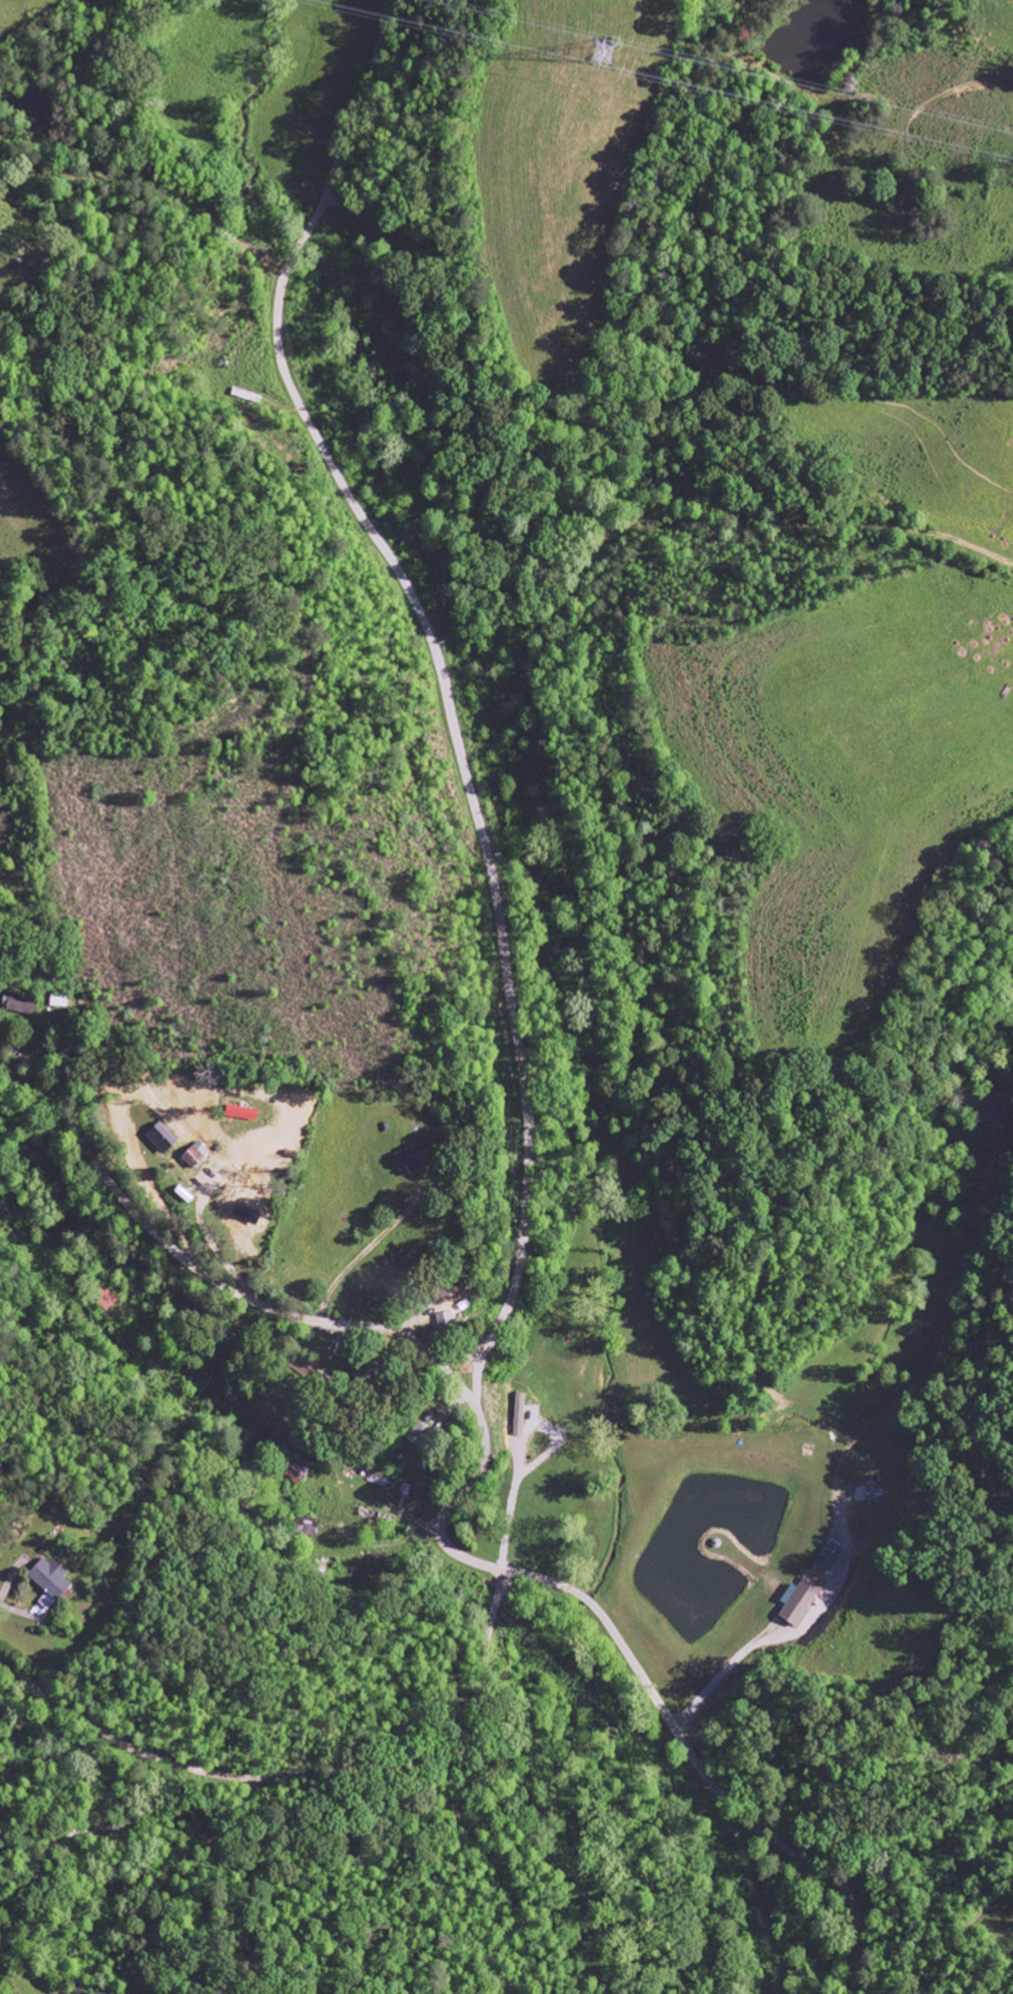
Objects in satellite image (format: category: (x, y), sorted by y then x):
power tower: (602, 51)
building: (58, 1001)
building: (22, 1008)
road: (522, 1074)
building: (162, 1138)
building: (195, 1156)
building: (412, 1158)
road: (211, 1278)
building: (102, 1297)
building: (446, 1324)
road: (461, 1352)
building: (421, 1439)
building: (828, 1558)
building: (50, 1582)
building: (801, 1602)
road: (311, 1770)

